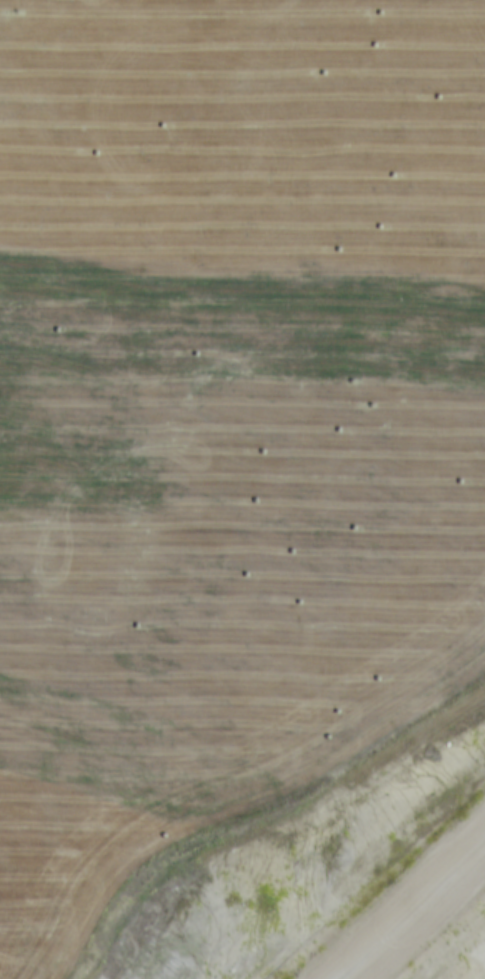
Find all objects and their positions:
quarry: (378, 226)

